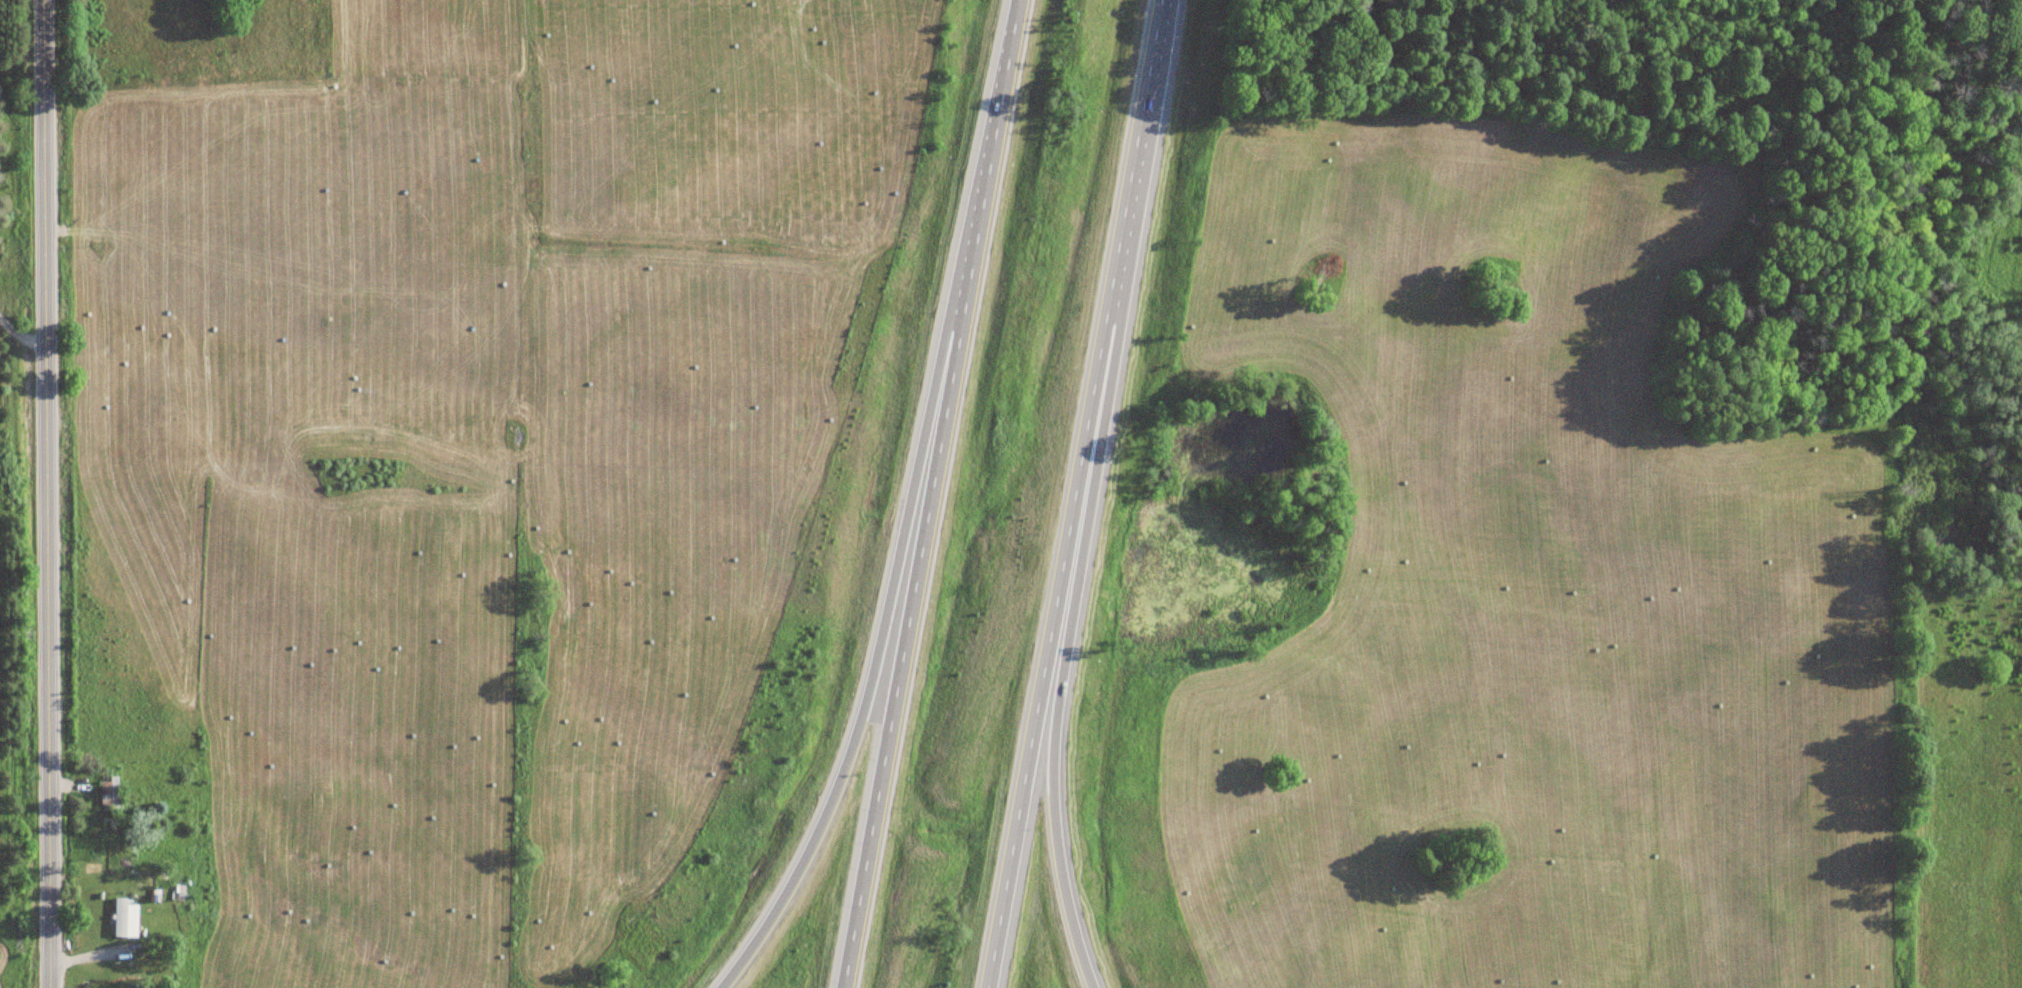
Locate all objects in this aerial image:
road: (1076, 493)
road: (47, 494)
road: (932, 494)
road: (877, 645)
road: (1056, 715)
building: (110, 791)
building: (126, 917)

